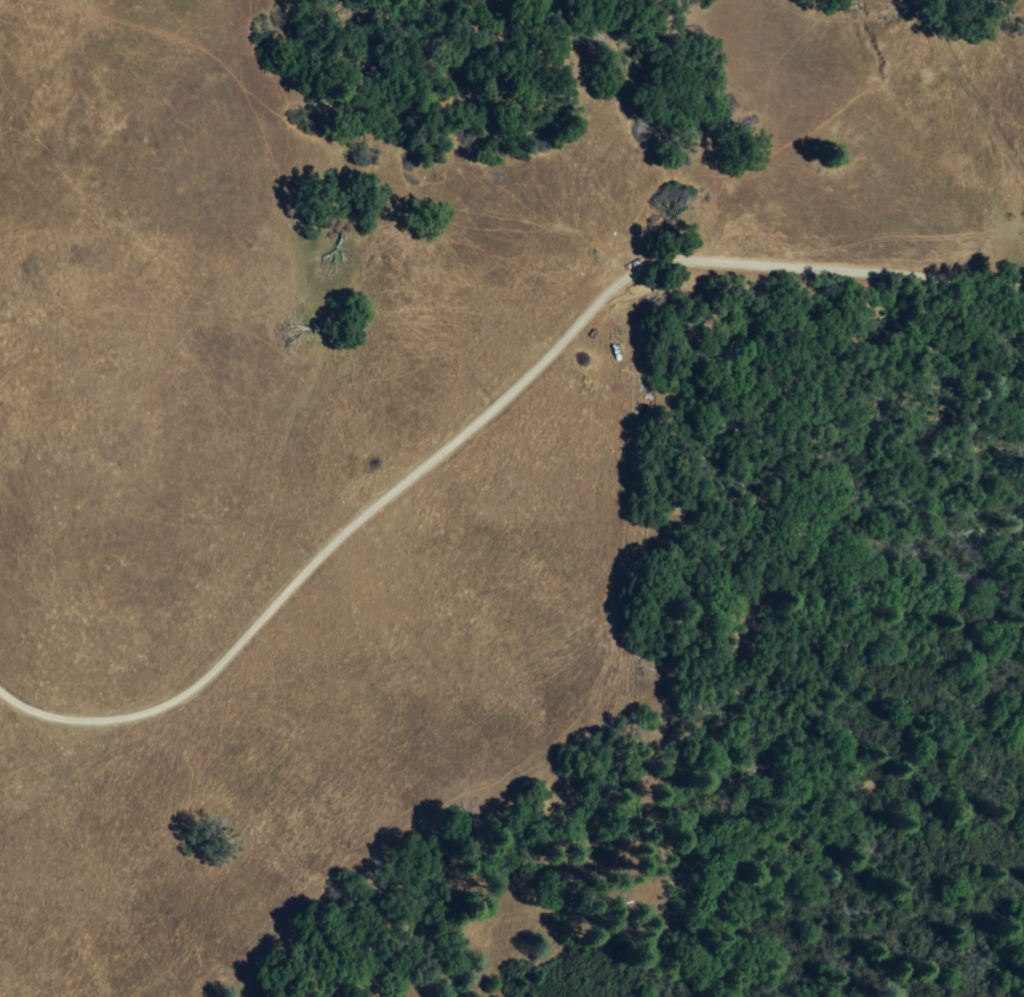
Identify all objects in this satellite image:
road: (480, 412)

